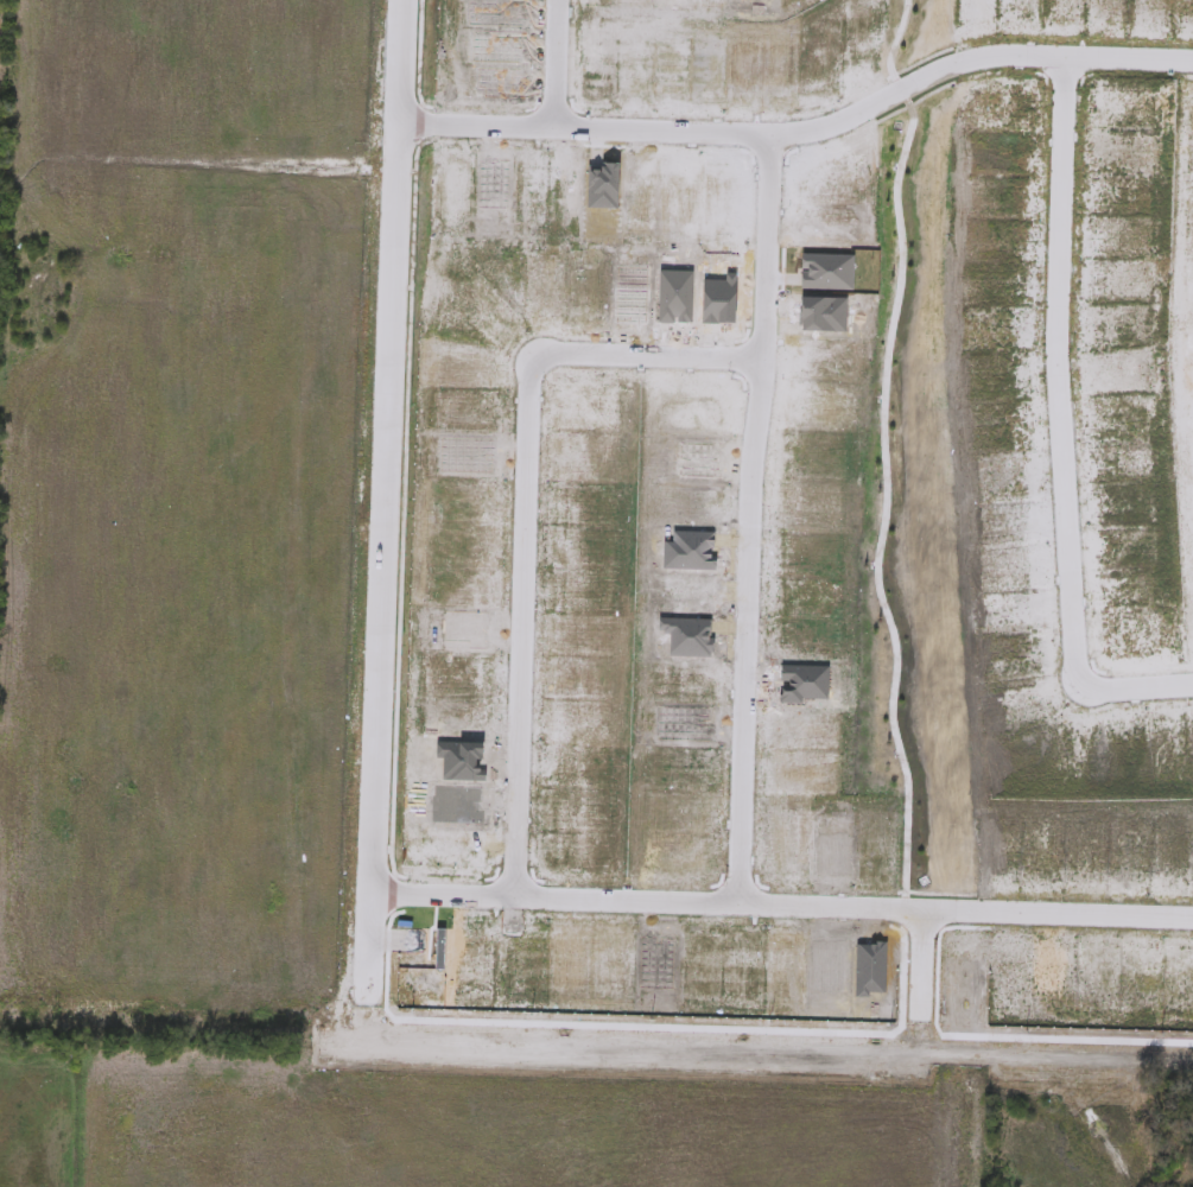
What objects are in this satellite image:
building: (756, 58)
road: (552, 63)
building: (824, 90)
road: (801, 132)
road: (1055, 374)
building: (484, 413)
road: (381, 493)
road: (522, 518)
road: (747, 521)
building: (458, 629)
road: (1137, 691)
road: (780, 910)
road: (920, 985)

